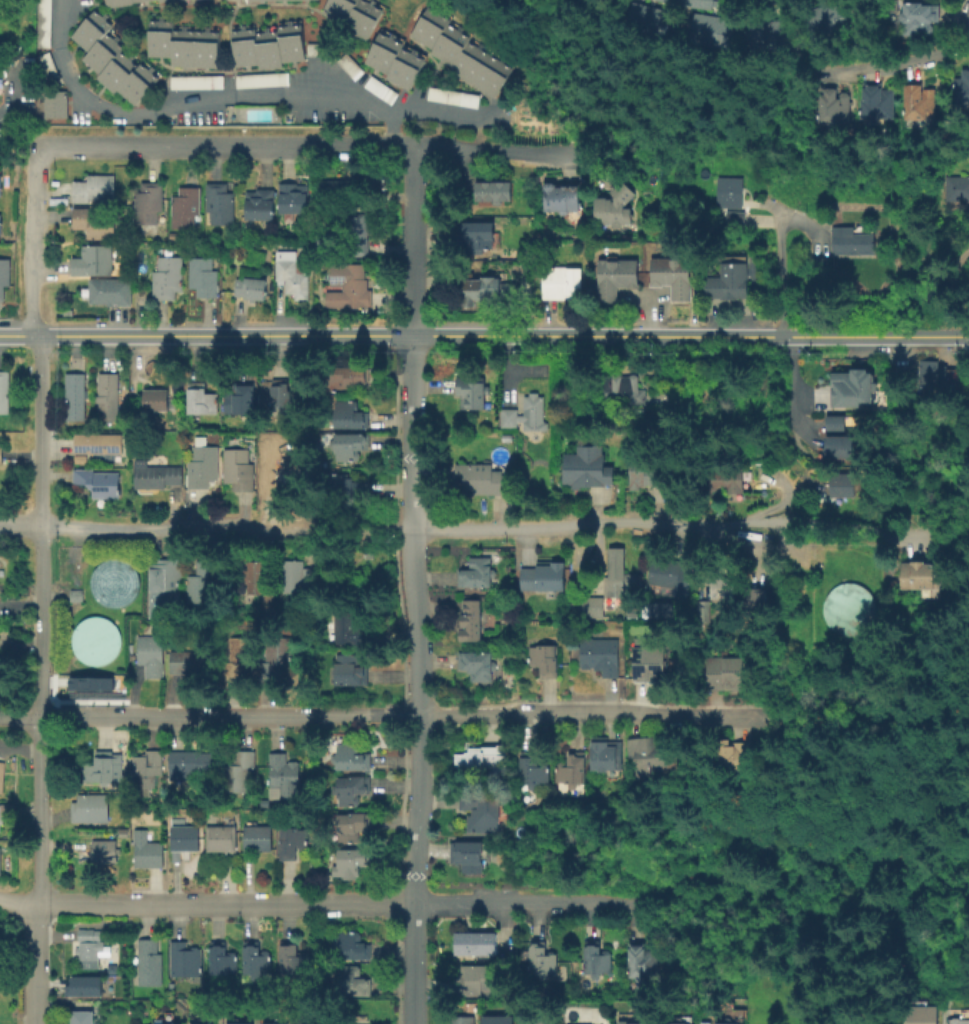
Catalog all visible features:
building: (134, 0)
building: (161, 0)
building: (229, 0)
building: (670, 1)
building: (122, 2)
building: (768, 2)
building: (109, 3)
building: (698, 3)
building: (327, 7)
building: (340, 10)
building: (842, 13)
building: (353, 15)
building: (631, 15)
building: (832, 15)
building: (822, 17)
building: (919, 17)
building: (812, 18)
building: (365, 19)
building: (641, 19)
building: (421, 21)
building: (650, 21)
building: (41, 23)
building: (661, 23)
building: (84, 25)
building: (695, 26)
building: (432, 28)
building: (706, 29)
building: (715, 30)
building: (726, 31)
building: (93, 33)
building: (785, 33)
building: (754, 35)
building: (764, 35)
building: (774, 35)
building: (152, 37)
building: (163, 38)
building: (441, 39)
building: (296, 41)
building: (284, 42)
building: (248, 45)
building: (237, 46)
building: (453, 46)
building: (375, 47)
building: (96, 48)
building: (175, 48)
building: (186, 48)
building: (261, 48)
building: (272, 48)
building: (198, 49)
building: (210, 49)
building: (315, 49)
building: (387, 53)
building: (105, 55)
building: (463, 56)
road: (904, 62)
building: (397, 63)
building: (474, 64)
building: (44, 65)
building: (110, 66)
building: (350, 67)
building: (409, 69)
building: (485, 70)
building: (119, 74)
building: (498, 77)
building: (130, 78)
building: (259, 79)
building: (194, 82)
building: (139, 86)
building: (378, 89)
road: (7, 92)
building: (962, 93)
building: (449, 96)
road: (199, 100)
building: (918, 101)
building: (834, 106)
building: (878, 107)
building: (57, 108)
road: (433, 111)
road: (306, 148)
road: (409, 182)
building: (1, 184)
building: (94, 187)
building: (335, 188)
building: (957, 188)
building: (491, 190)
building: (731, 194)
building: (293, 195)
building: (557, 195)
building: (219, 202)
building: (259, 202)
building: (148, 203)
building: (613, 205)
building: (185, 206)
building: (737, 220)
building: (93, 223)
building: (357, 234)
building: (474, 235)
road: (32, 241)
building: (853, 243)
building: (91, 259)
road: (780, 271)
building: (4, 273)
building: (292, 273)
road: (411, 275)
building: (613, 275)
building: (670, 275)
building: (203, 276)
building: (167, 277)
building: (727, 280)
building: (559, 282)
building: (350, 285)
building: (253, 287)
building: (483, 289)
building: (109, 290)
road: (484, 334)
building: (346, 375)
building: (935, 375)
road: (792, 382)
building: (849, 386)
building: (622, 389)
building: (3, 391)
building: (472, 393)
building: (285, 394)
building: (75, 395)
building: (107, 395)
building: (203, 398)
building: (240, 399)
building: (154, 404)
building: (350, 414)
building: (534, 415)
building: (837, 437)
building: (97, 441)
building: (351, 444)
building: (0, 453)
building: (585, 465)
building: (202, 467)
building: (298, 470)
building: (642, 470)
building: (238, 471)
building: (155, 474)
building: (485, 479)
building: (725, 479)
building: (96, 481)
building: (841, 485)
building: (348, 486)
road: (662, 524)
road: (205, 529)
building: (478, 572)
building: (256, 575)
building: (670, 575)
building: (165, 576)
building: (300, 576)
building: (542, 576)
building: (618, 577)
building: (920, 577)
building: (202, 580)
building: (112, 582)
storage tank: (112, 582)
building: (721, 587)
building: (73, 593)
building: (755, 597)
building: (590, 606)
building: (848, 608)
storage tank: (848, 608)
building: (703, 610)
building: (470, 620)
building: (350, 626)
building: (94, 640)
storage tank: (94, 640)
building: (152, 654)
building: (277, 654)
building: (240, 655)
building: (600, 655)
building: (545, 658)
building: (647, 659)
building: (195, 660)
building: (478, 665)
building: (351, 668)
building: (727, 673)
road: (37, 678)
road: (418, 678)
building: (90, 683)
road: (589, 713)
road: (209, 715)
road: (864, 718)
building: (603, 753)
building: (349, 755)
building: (733, 757)
building: (649, 758)
building: (483, 759)
building: (192, 762)
building: (100, 767)
building: (148, 767)
building: (239, 770)
building: (533, 772)
building: (570, 772)
building: (1, 774)
building: (286, 775)
building: (351, 788)
building: (92, 807)
building: (6, 809)
building: (483, 810)
building: (351, 825)
building: (185, 836)
building: (257, 836)
building: (221, 837)
building: (291, 842)
building: (147, 849)
building: (104, 850)
building: (467, 856)
building: (350, 859)
road: (18, 904)
road: (334, 904)
road: (850, 917)
building: (88, 934)
building: (472, 943)
building: (350, 944)
building: (1, 949)
building: (89, 952)
building: (222, 957)
building: (540, 957)
building: (185, 958)
building: (292, 958)
building: (594, 959)
building: (148, 961)
building: (255, 961)
building: (639, 962)
building: (474, 978)
building: (350, 979)
building: (81, 985)
building: (919, 1014)
building: (958, 1016)
building: (81, 1017)
building: (849, 1017)
building: (460, 1019)
building: (534, 1019)
building: (495, 1020)
building: (631, 1022)
building: (177, 1023)
building: (199, 1023)
building: (232, 1023)
building: (274, 1023)
building: (307, 1023)
building: (675, 1023)
building: (702, 1023)
building: (723, 1023)
building: (835, 1023)

